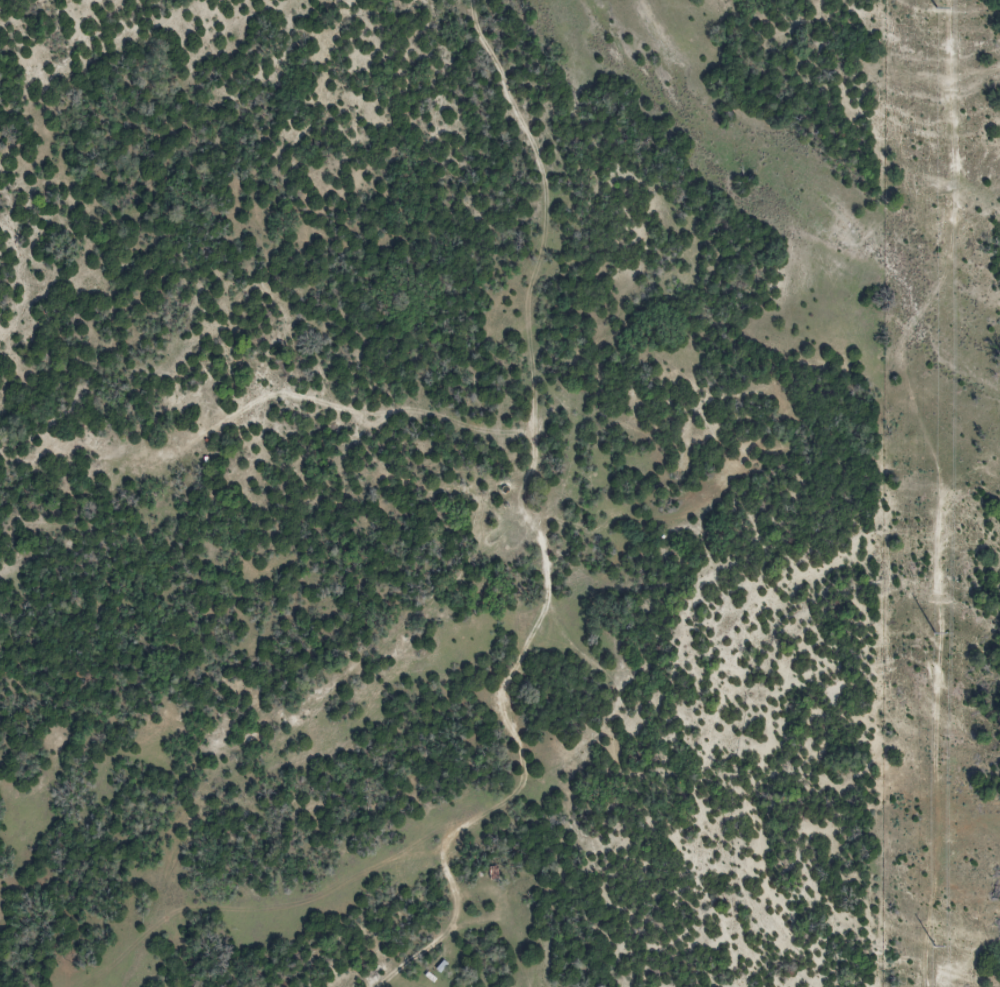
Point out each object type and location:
power tower: (934, 7)
power tower: (936, 633)
power tower: (934, 945)

